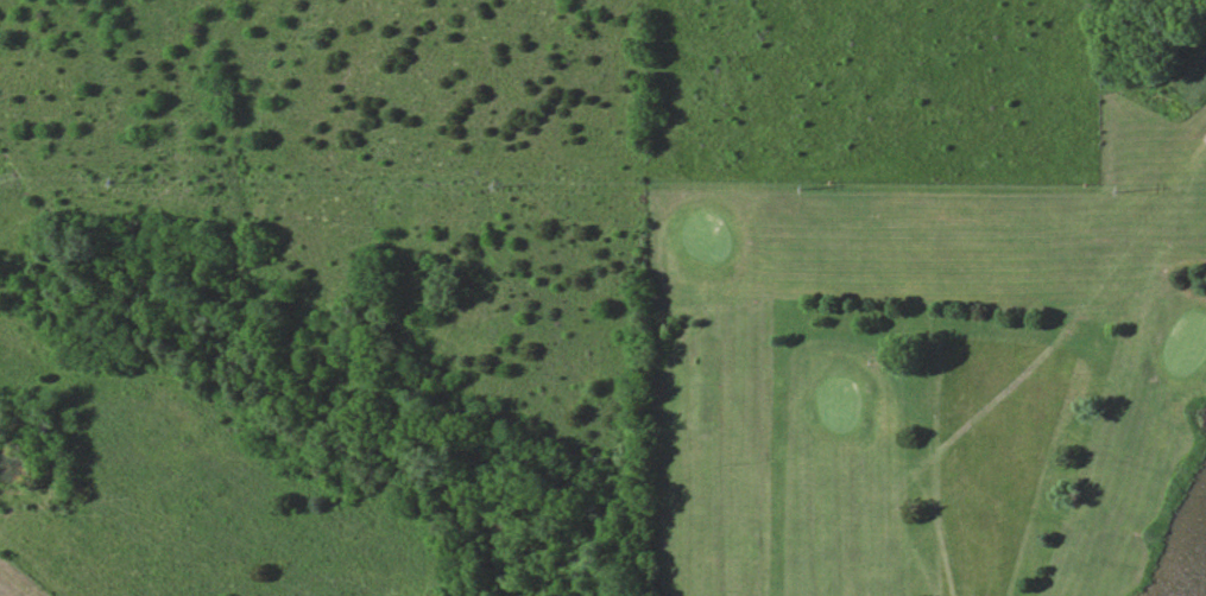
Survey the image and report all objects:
road: (1194, 140)

